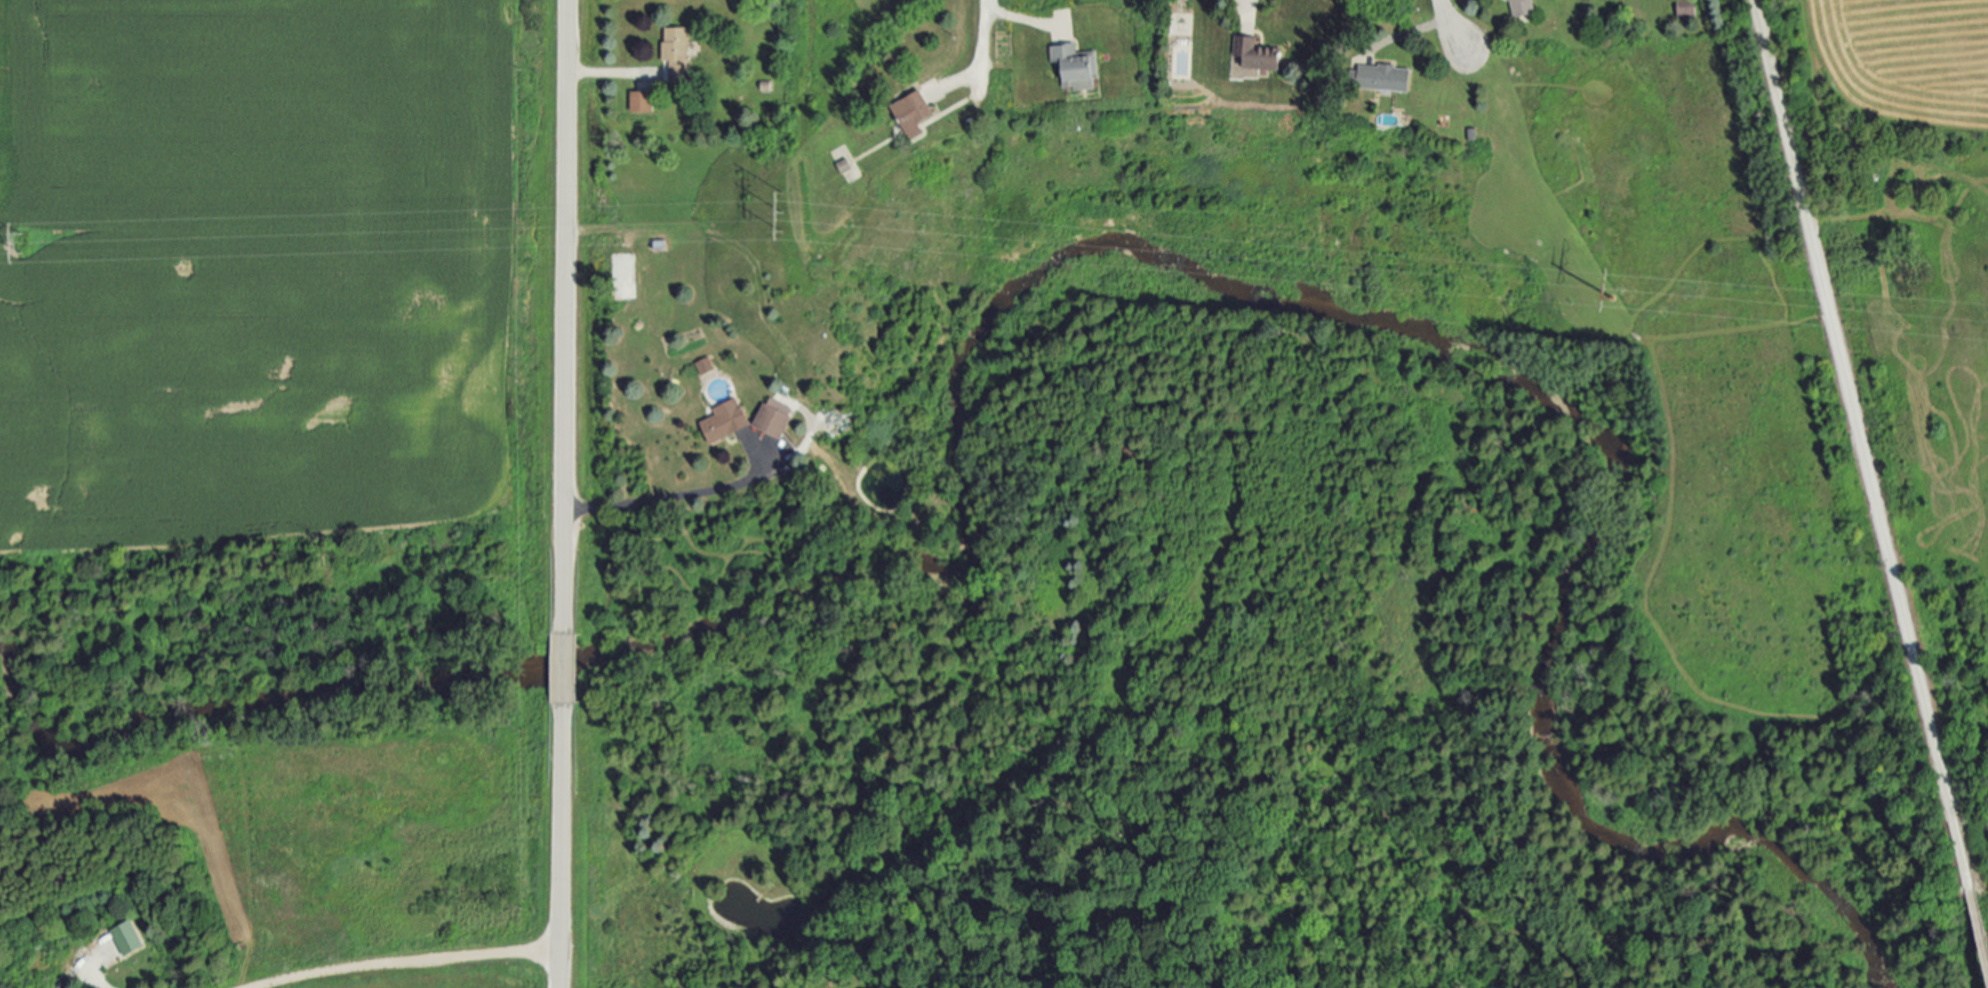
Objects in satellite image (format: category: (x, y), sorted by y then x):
road: (1247, 2)
building: (1523, 7)
building: (1689, 8)
road: (1017, 17)
road: (1448, 22)
building: (678, 52)
building: (1264, 53)
road: (980, 56)
building: (1082, 66)
road: (607, 73)
building: (1389, 77)
building: (643, 101)
building: (919, 111)
power tower: (784, 215)
power tower: (21, 242)
river: (1096, 265)
road: (564, 271)
power tower: (1631, 294)
building: (775, 417)
building: (726, 420)
road: (1853, 421)
road: (671, 500)
road: (562, 618)
road: (561, 840)
road: (1972, 907)
building: (130, 938)
road: (407, 961)
road: (90, 981)

